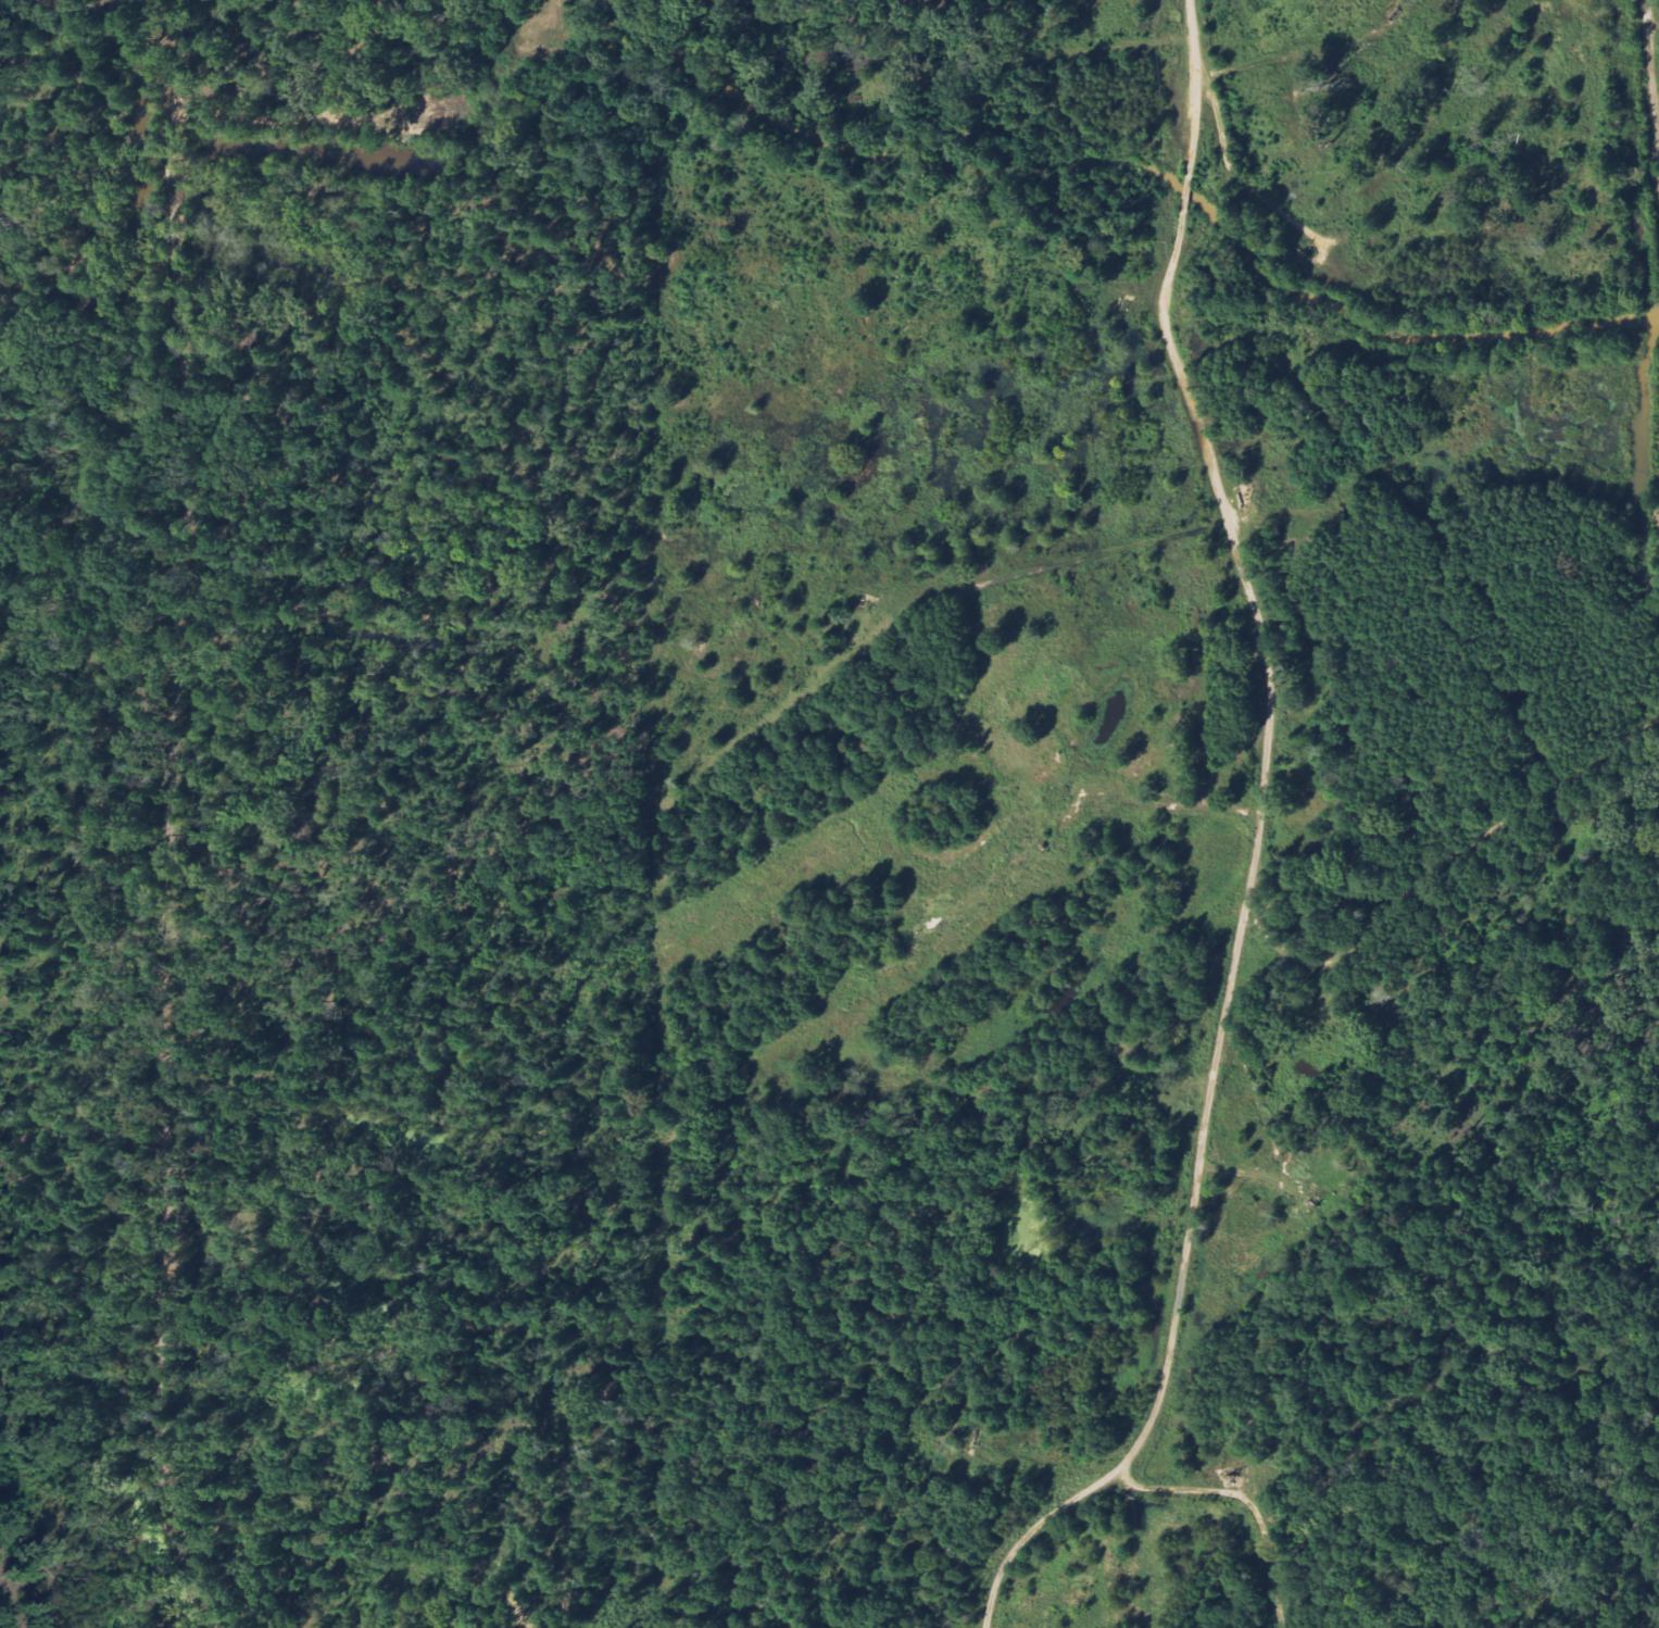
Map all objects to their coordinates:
road: (1256, 830)

